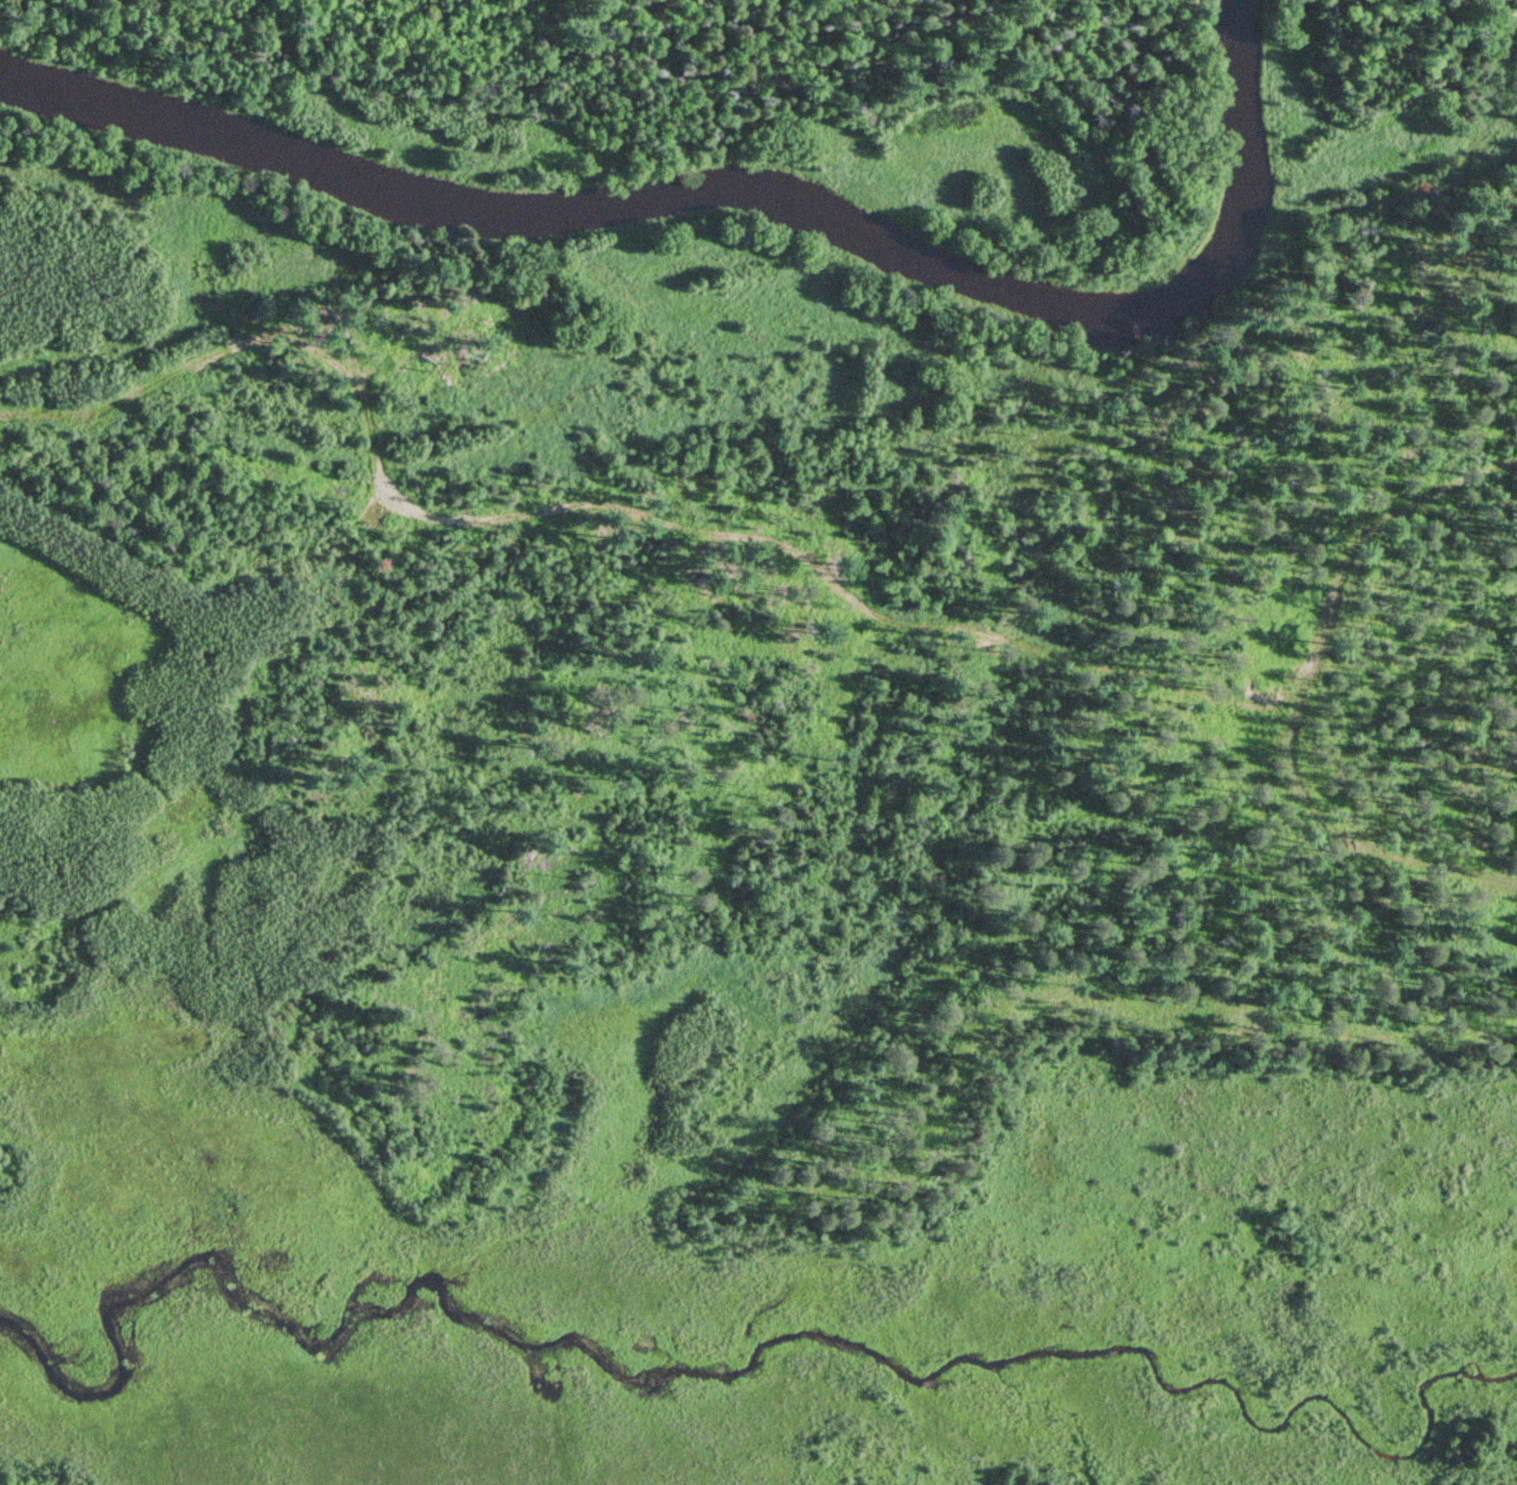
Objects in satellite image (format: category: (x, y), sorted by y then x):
river: (754, 191)

